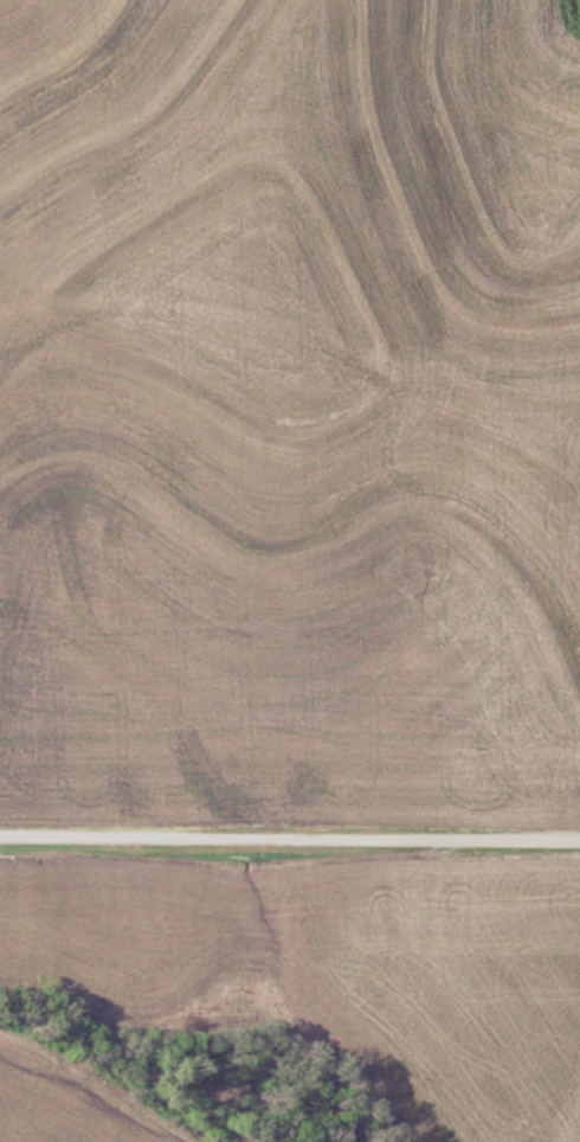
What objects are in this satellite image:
road: (290, 838)

